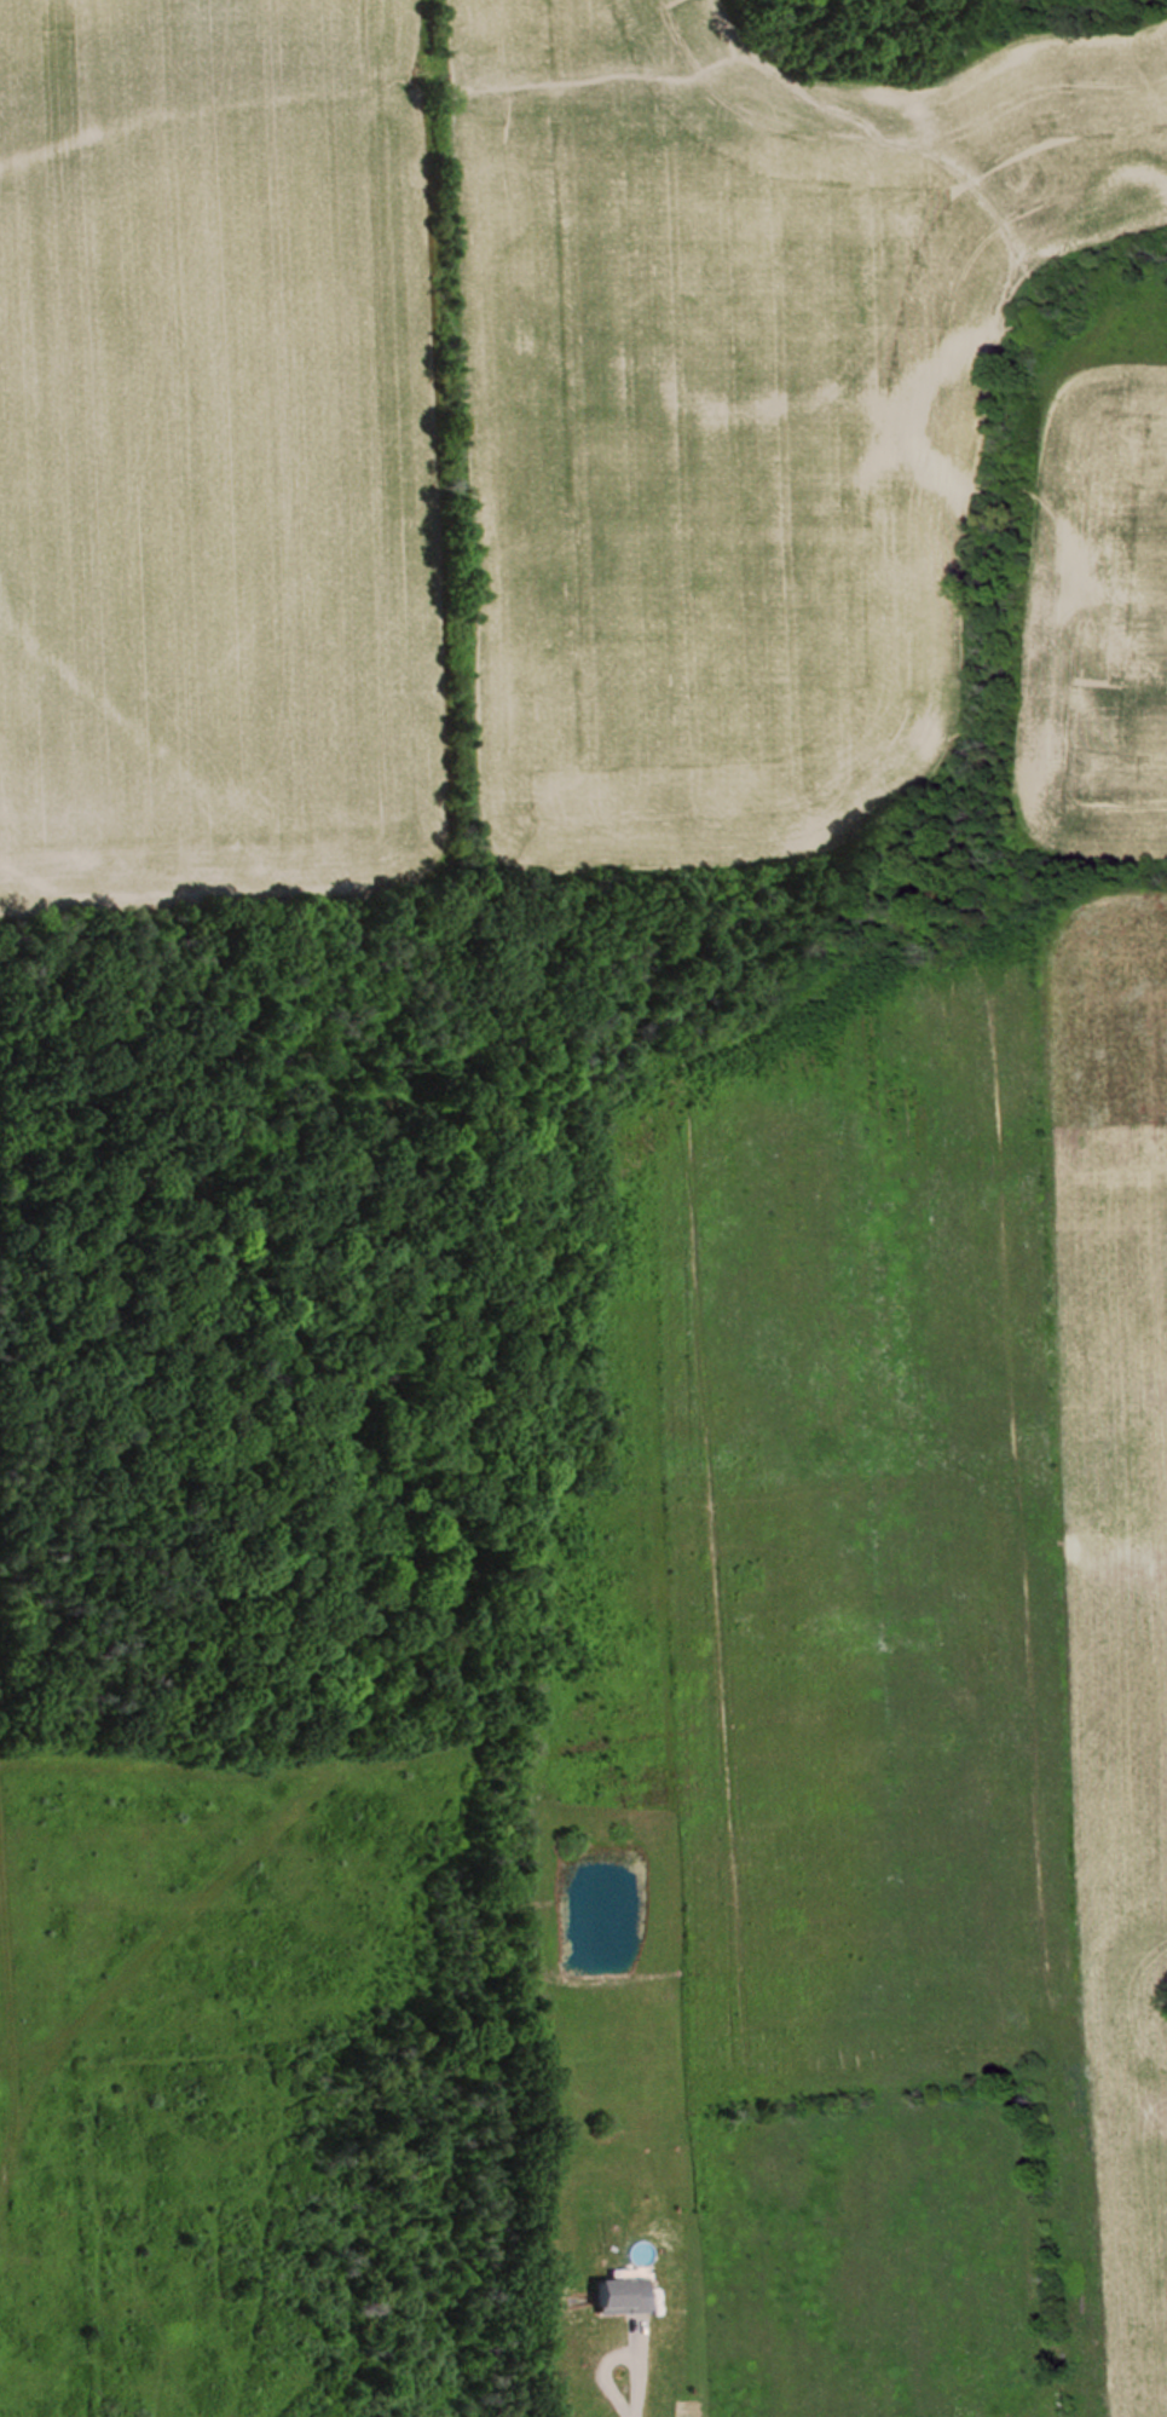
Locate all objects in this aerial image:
road: (634, 2413)

